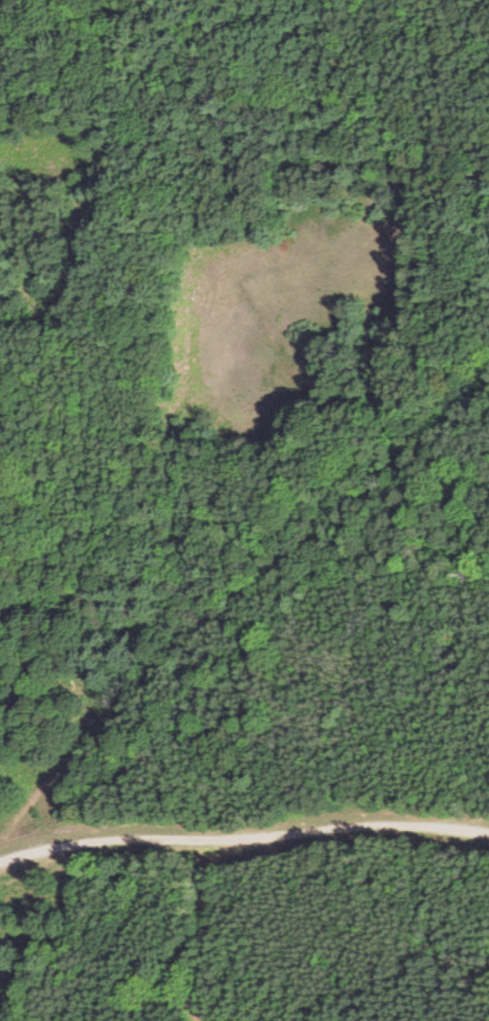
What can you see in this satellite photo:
road: (243, 839)

